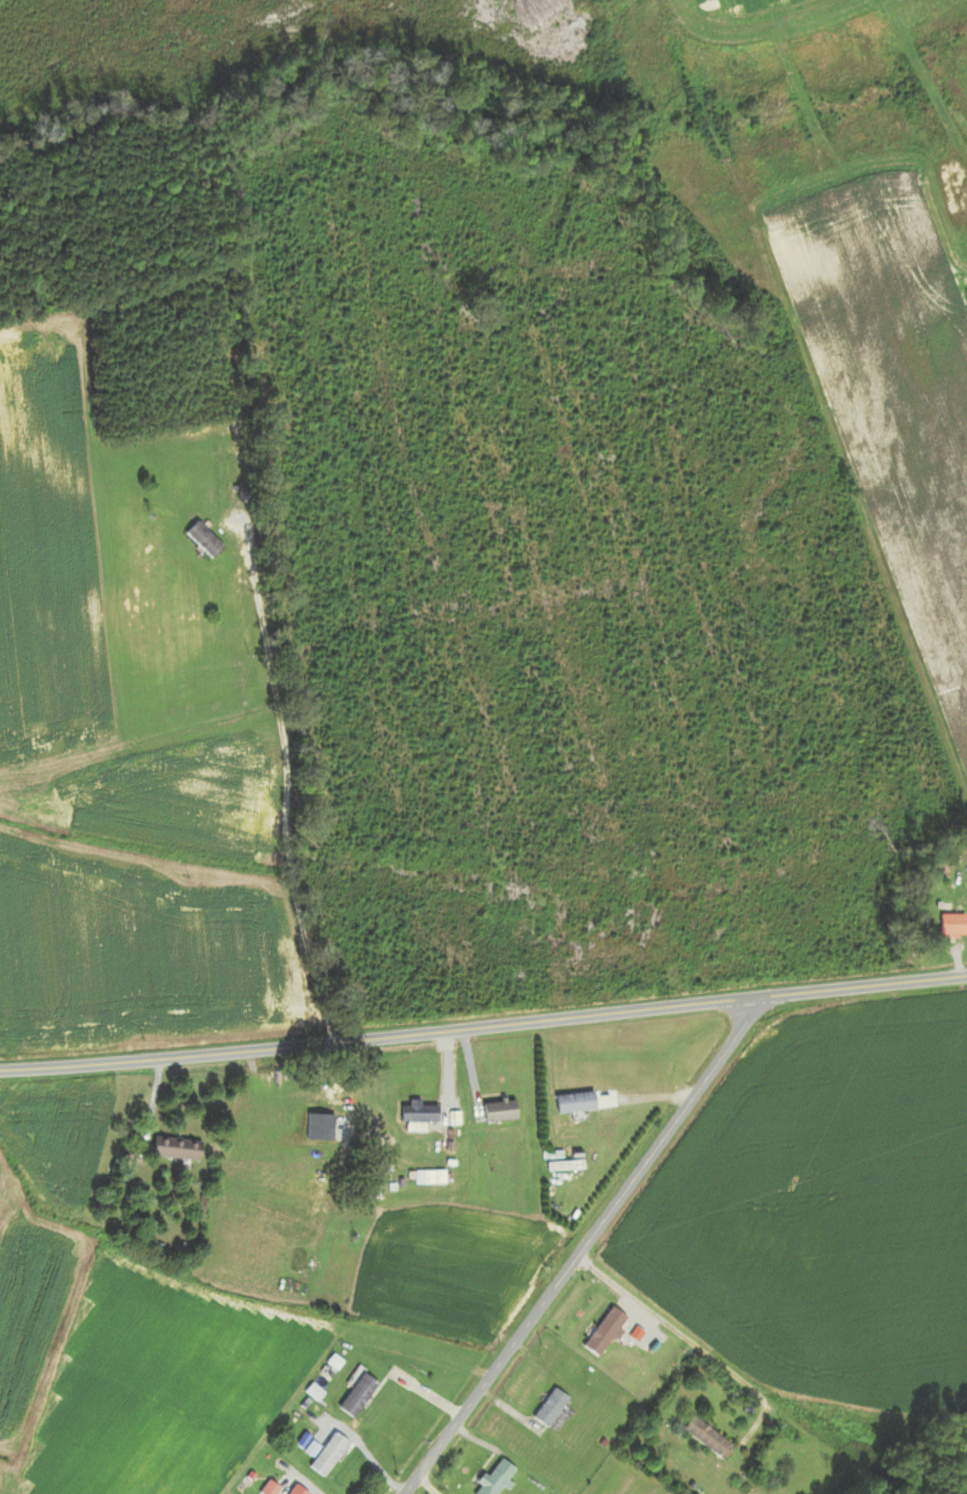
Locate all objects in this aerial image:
building: (199, 541)
building: (947, 926)
road: (483, 1028)
building: (570, 1103)
building: (493, 1112)
building: (414, 1115)
building: (171, 1151)
building: (415, 1178)
building: (435, 1178)
road: (581, 1249)
building: (599, 1333)
building: (353, 1396)
building: (545, 1408)
building: (702, 1438)
building: (324, 1456)
building: (491, 1479)
road: (422, 1487)
building: (291, 1490)

